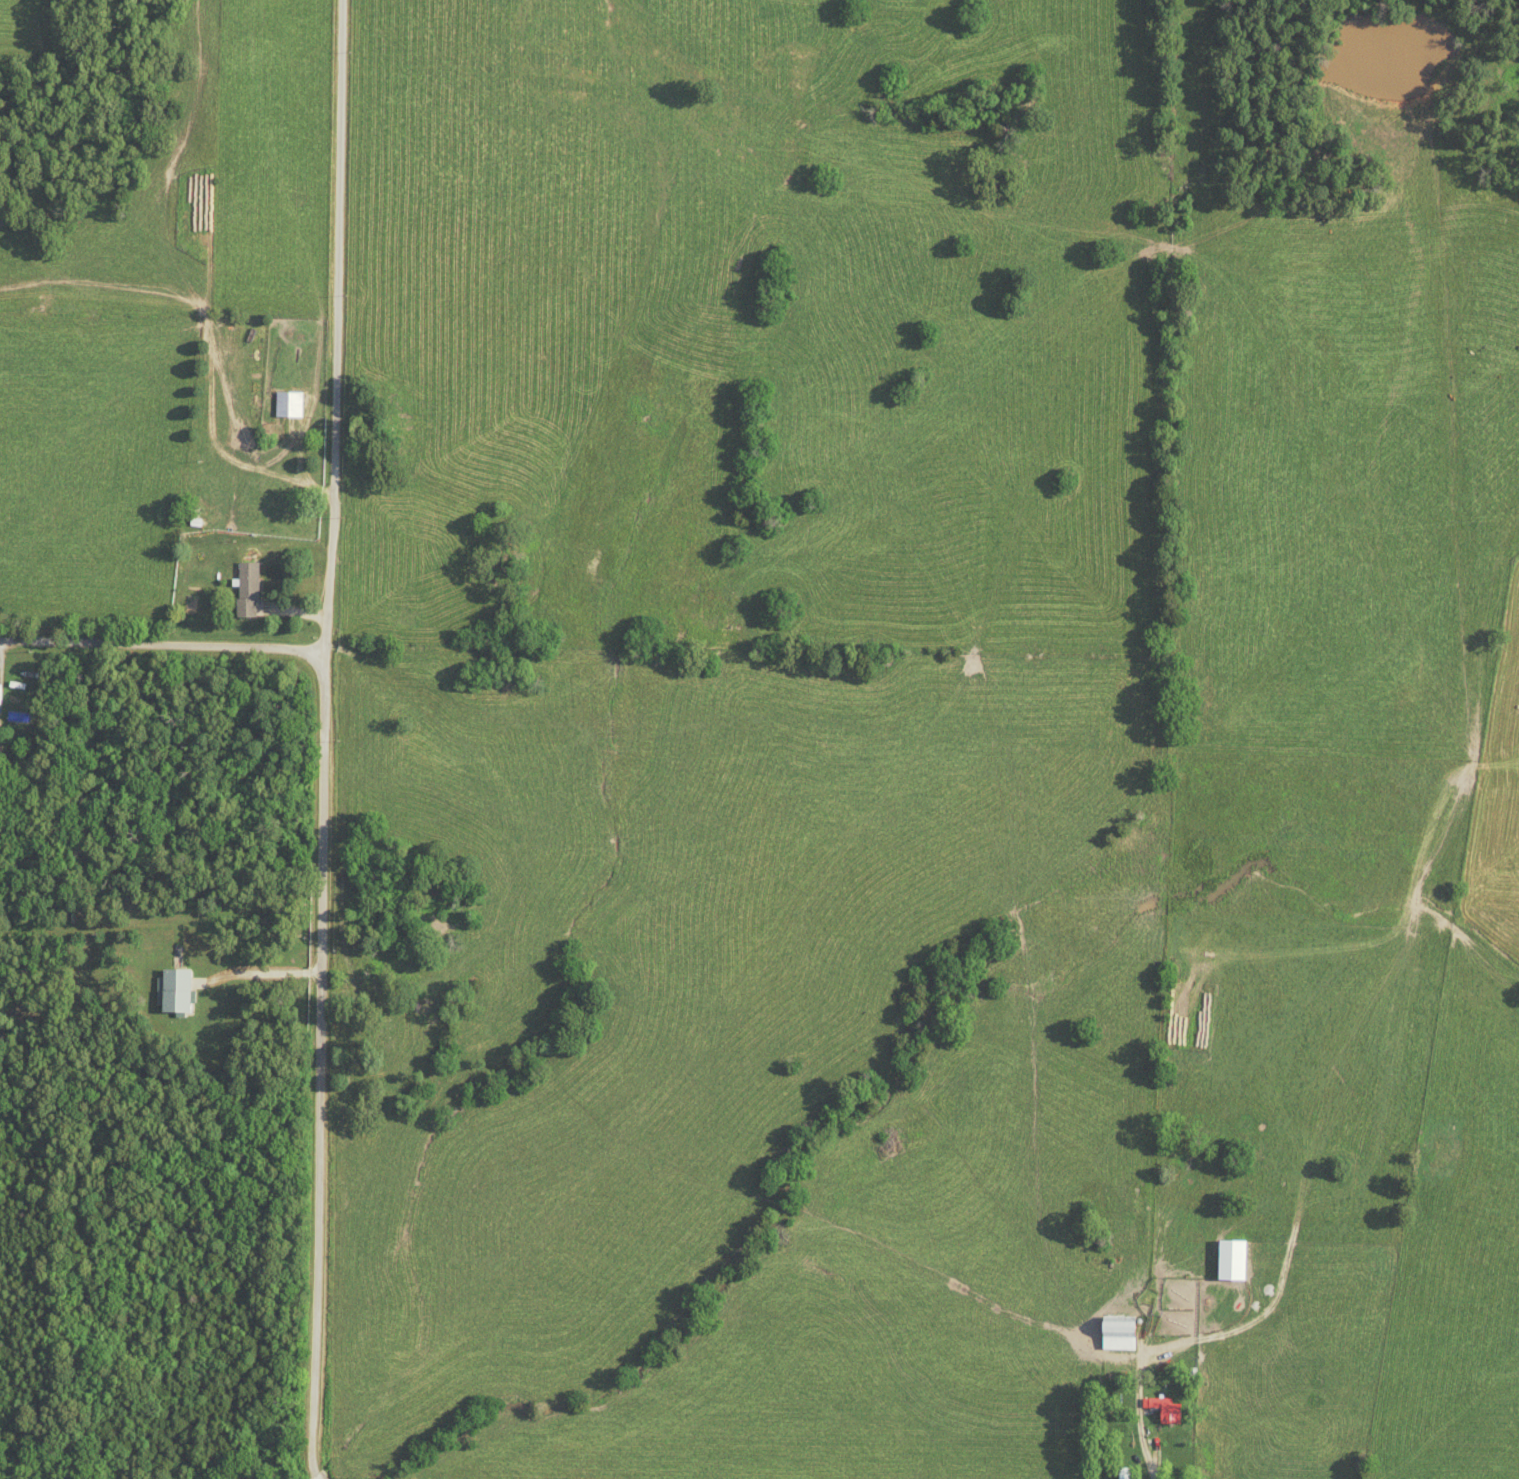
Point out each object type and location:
building: (288, 405)
building: (245, 588)
road: (164, 647)
road: (328, 734)
building: (173, 990)
building: (1116, 1333)
building: (1162, 1408)
road: (1141, 1433)
road: (315, 1474)

